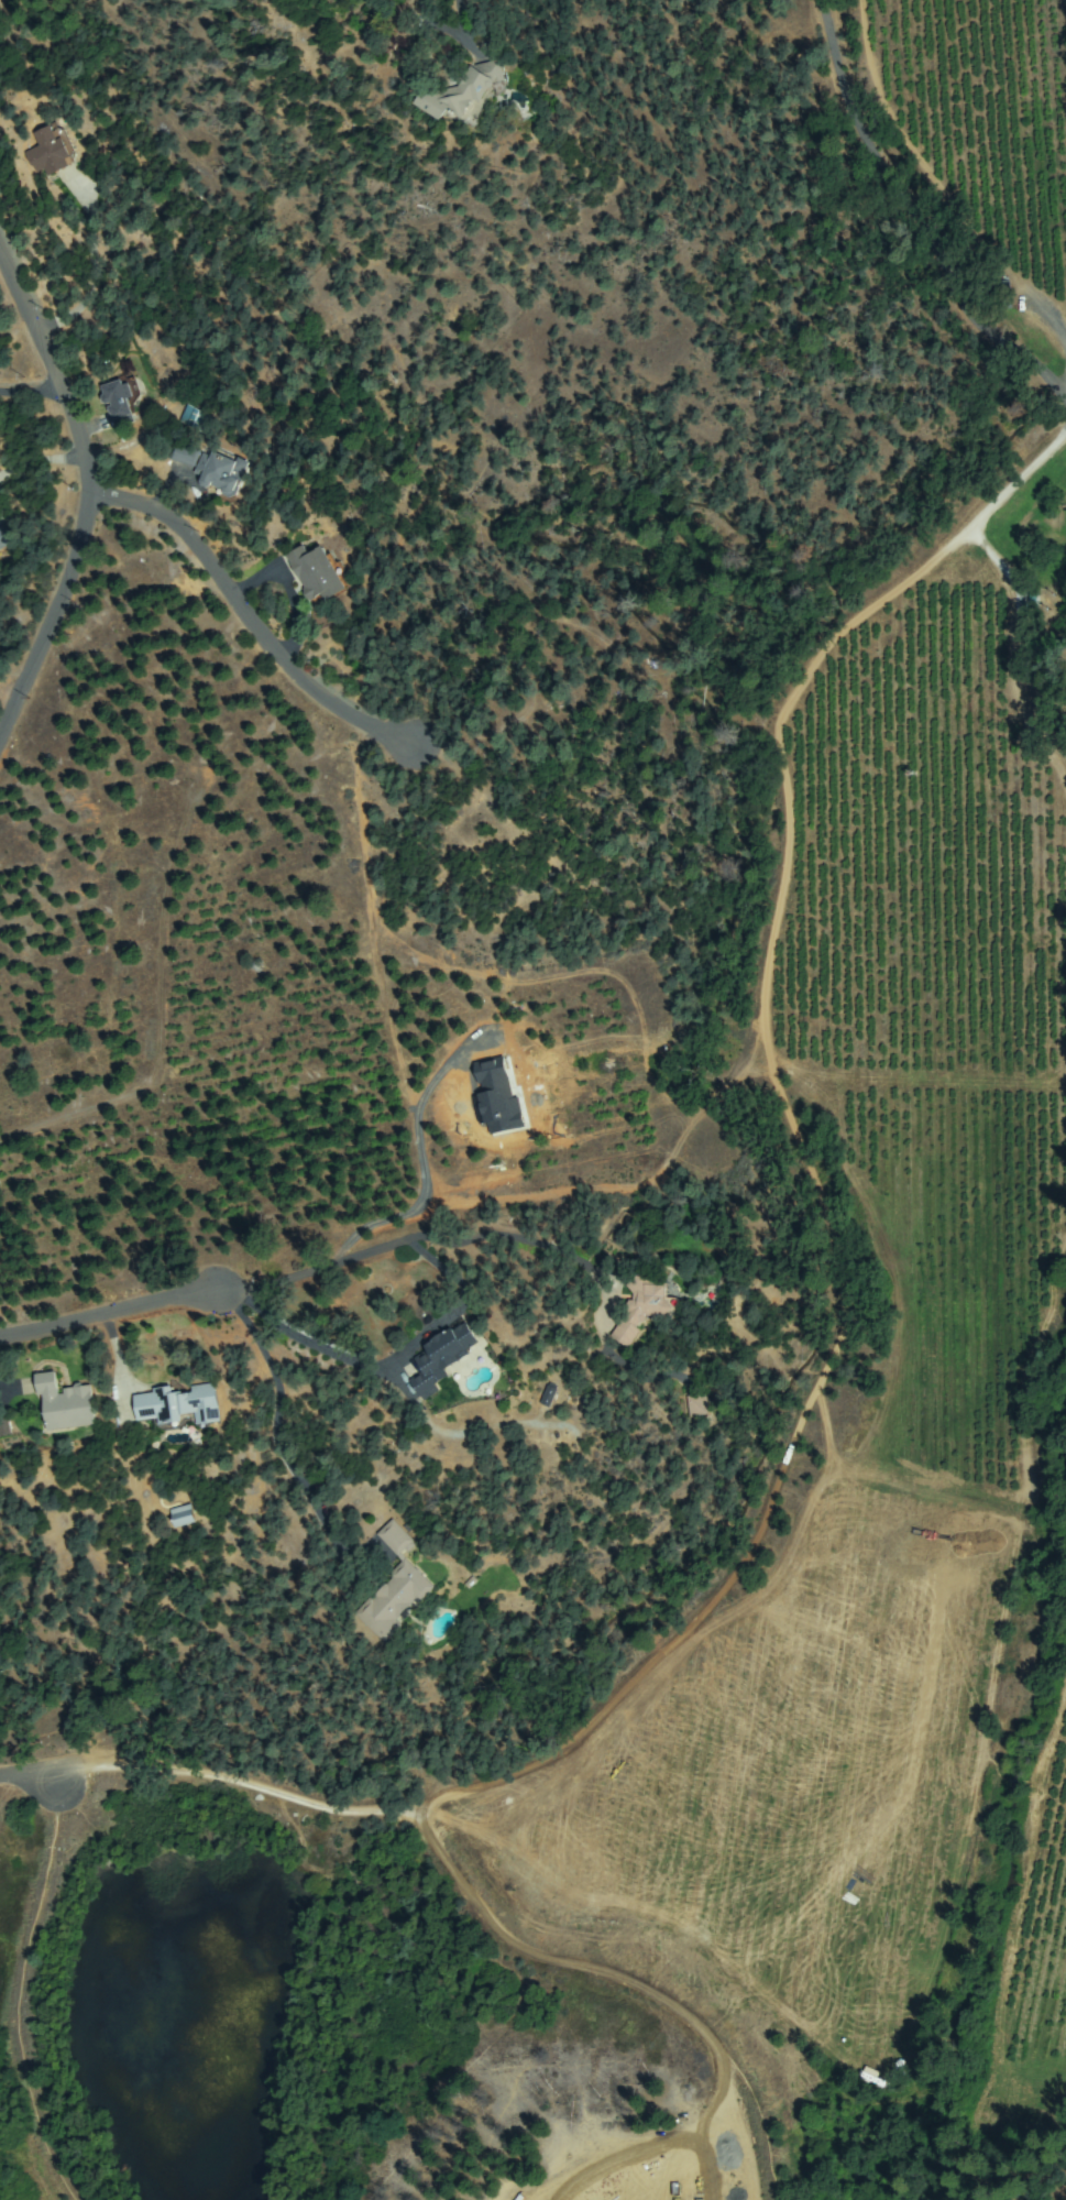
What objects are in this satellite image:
building: (464, 90)
road: (858, 134)
building: (52, 151)
building: (1002, 295)
road: (996, 332)
road: (55, 373)
building: (121, 403)
building: (196, 419)
building: (185, 455)
building: (222, 472)
road: (171, 530)
building: (3, 538)
building: (320, 574)
road: (51, 621)
road: (305, 692)
building: (491, 1075)
road: (853, 1174)
building: (645, 1307)
road: (106, 1315)
building: (443, 1357)
building: (549, 1394)
building: (66, 1404)
building: (699, 1404)
building: (179, 1407)
building: (183, 1515)
building: (394, 1537)
building: (394, 1601)

